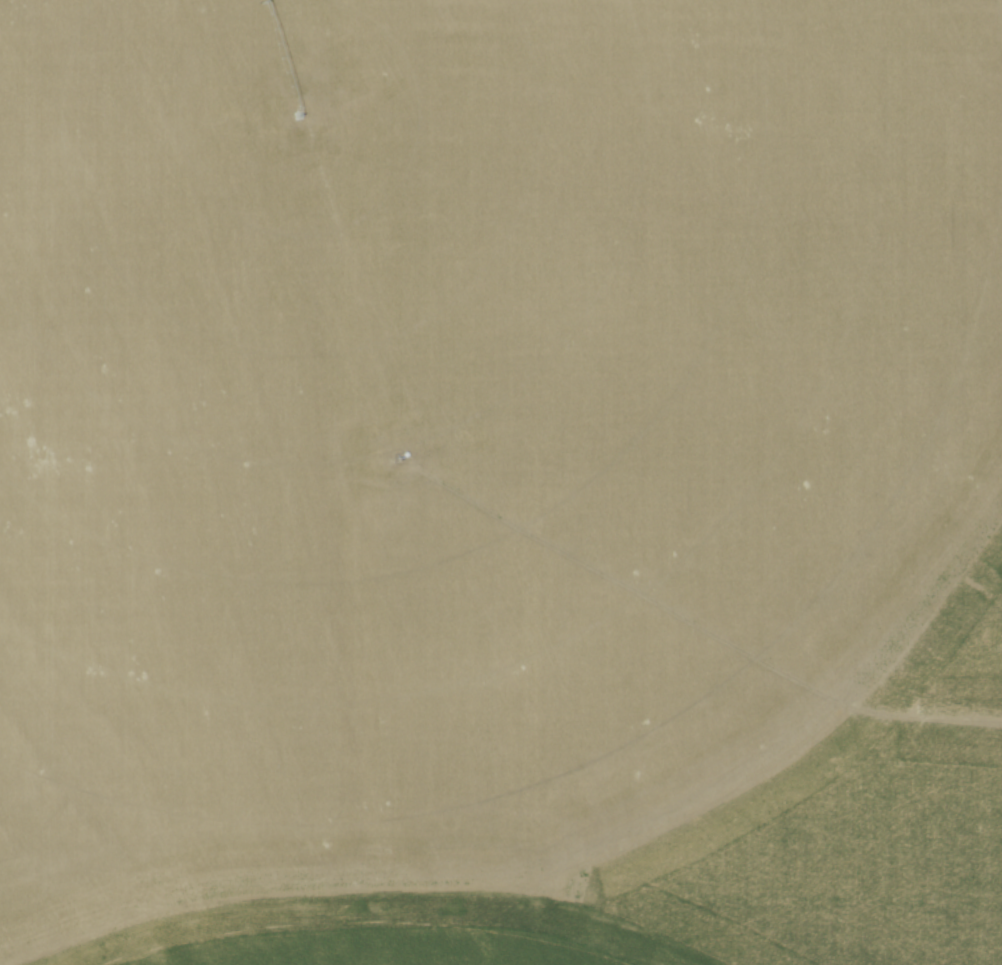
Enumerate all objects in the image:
crop: (468, 415)
crop: (351, 937)

